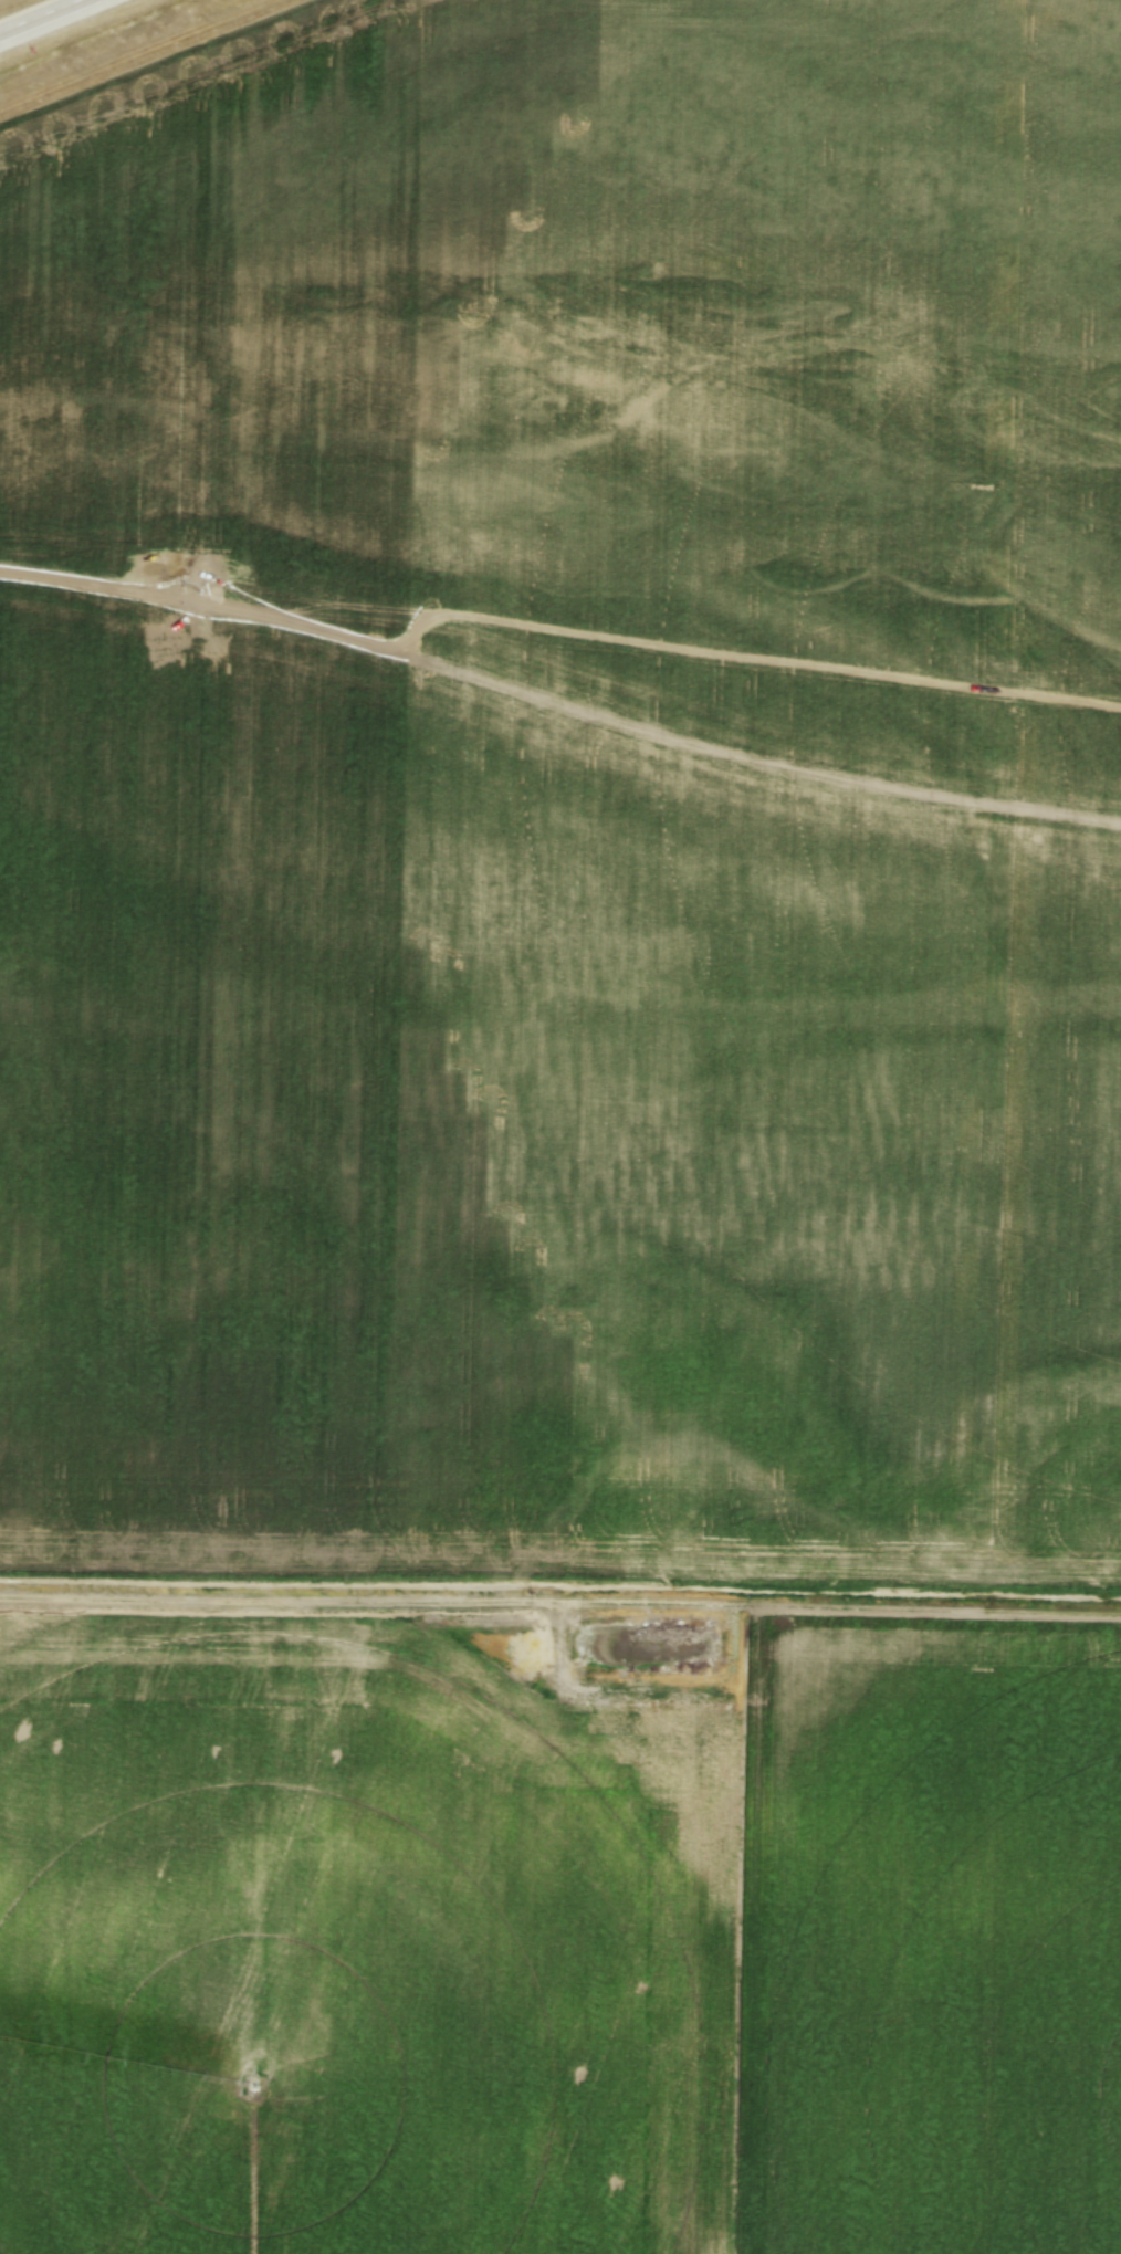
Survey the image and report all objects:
road: (41, 15)
crop: (566, 793)
crop: (557, 1943)

